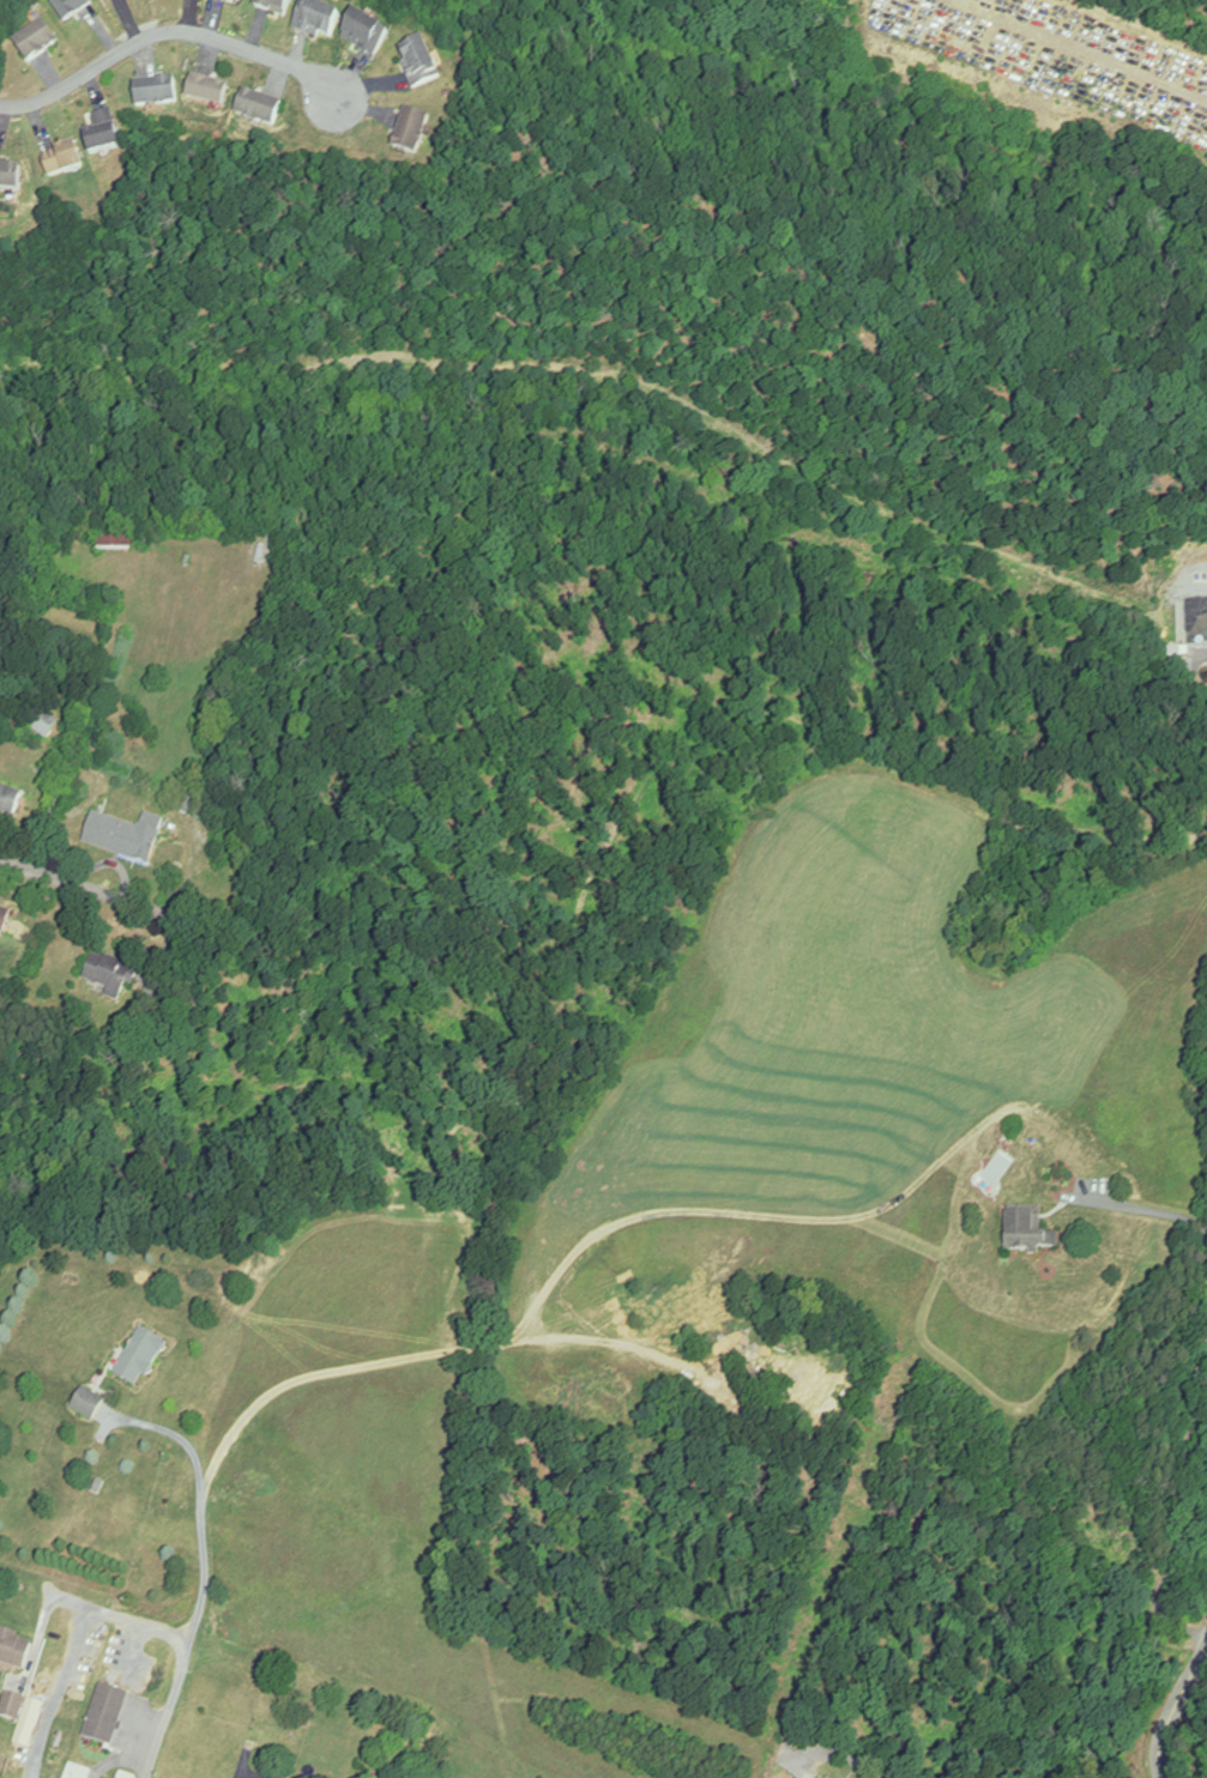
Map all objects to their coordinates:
building: (241, 0)
building: (274, 5)
building: (71, 6)
building: (318, 19)
road: (167, 32)
building: (367, 32)
building: (35, 38)
building: (420, 63)
building: (207, 90)
building: (156, 92)
building: (259, 107)
building: (412, 131)
building: (103, 133)
building: (64, 161)
building: (10, 176)
building: (261, 555)
building: (10, 800)
building: (122, 837)
road: (82, 881)
building: (5, 917)
building: (109, 976)
road: (1136, 1208)
building: (1030, 1235)
building: (140, 1359)
building: (87, 1404)
road: (1183, 1500)
road: (206, 1579)
road: (44, 1625)
road: (79, 1644)
road: (134, 1650)
building: (14, 1651)
road: (1176, 1712)
building: (107, 1716)
building: (23, 1718)
road: (828, 1756)
road: (123, 1758)
building: (78, 1771)
building: (276, 1777)

